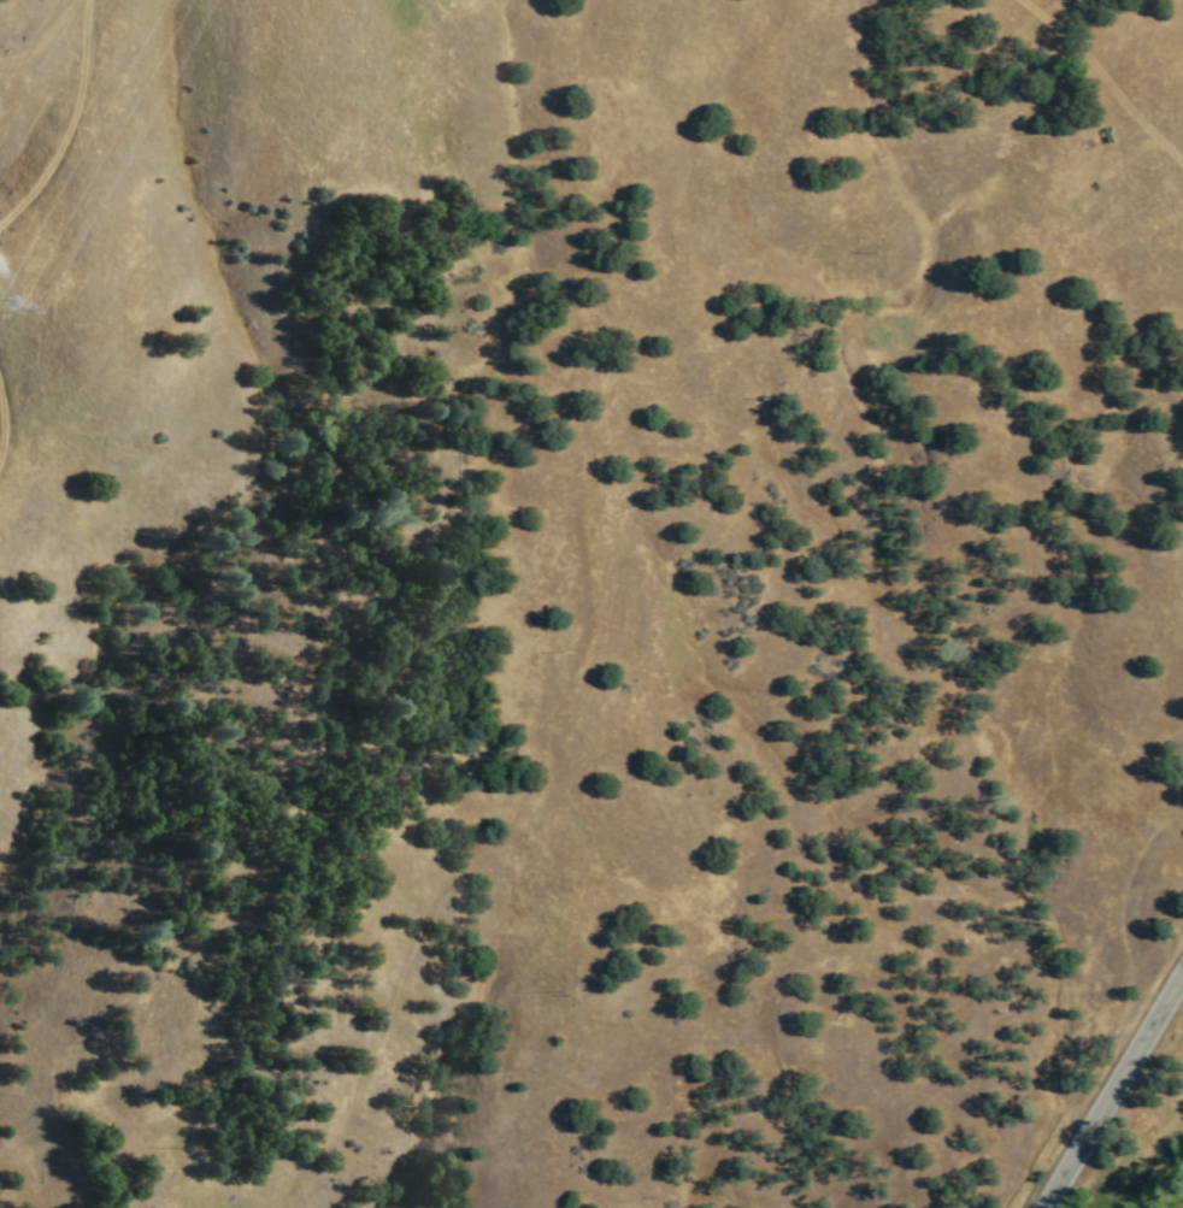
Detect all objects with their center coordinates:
road: (1105, 79)
power tower: (5, 310)
road: (1113, 1089)

